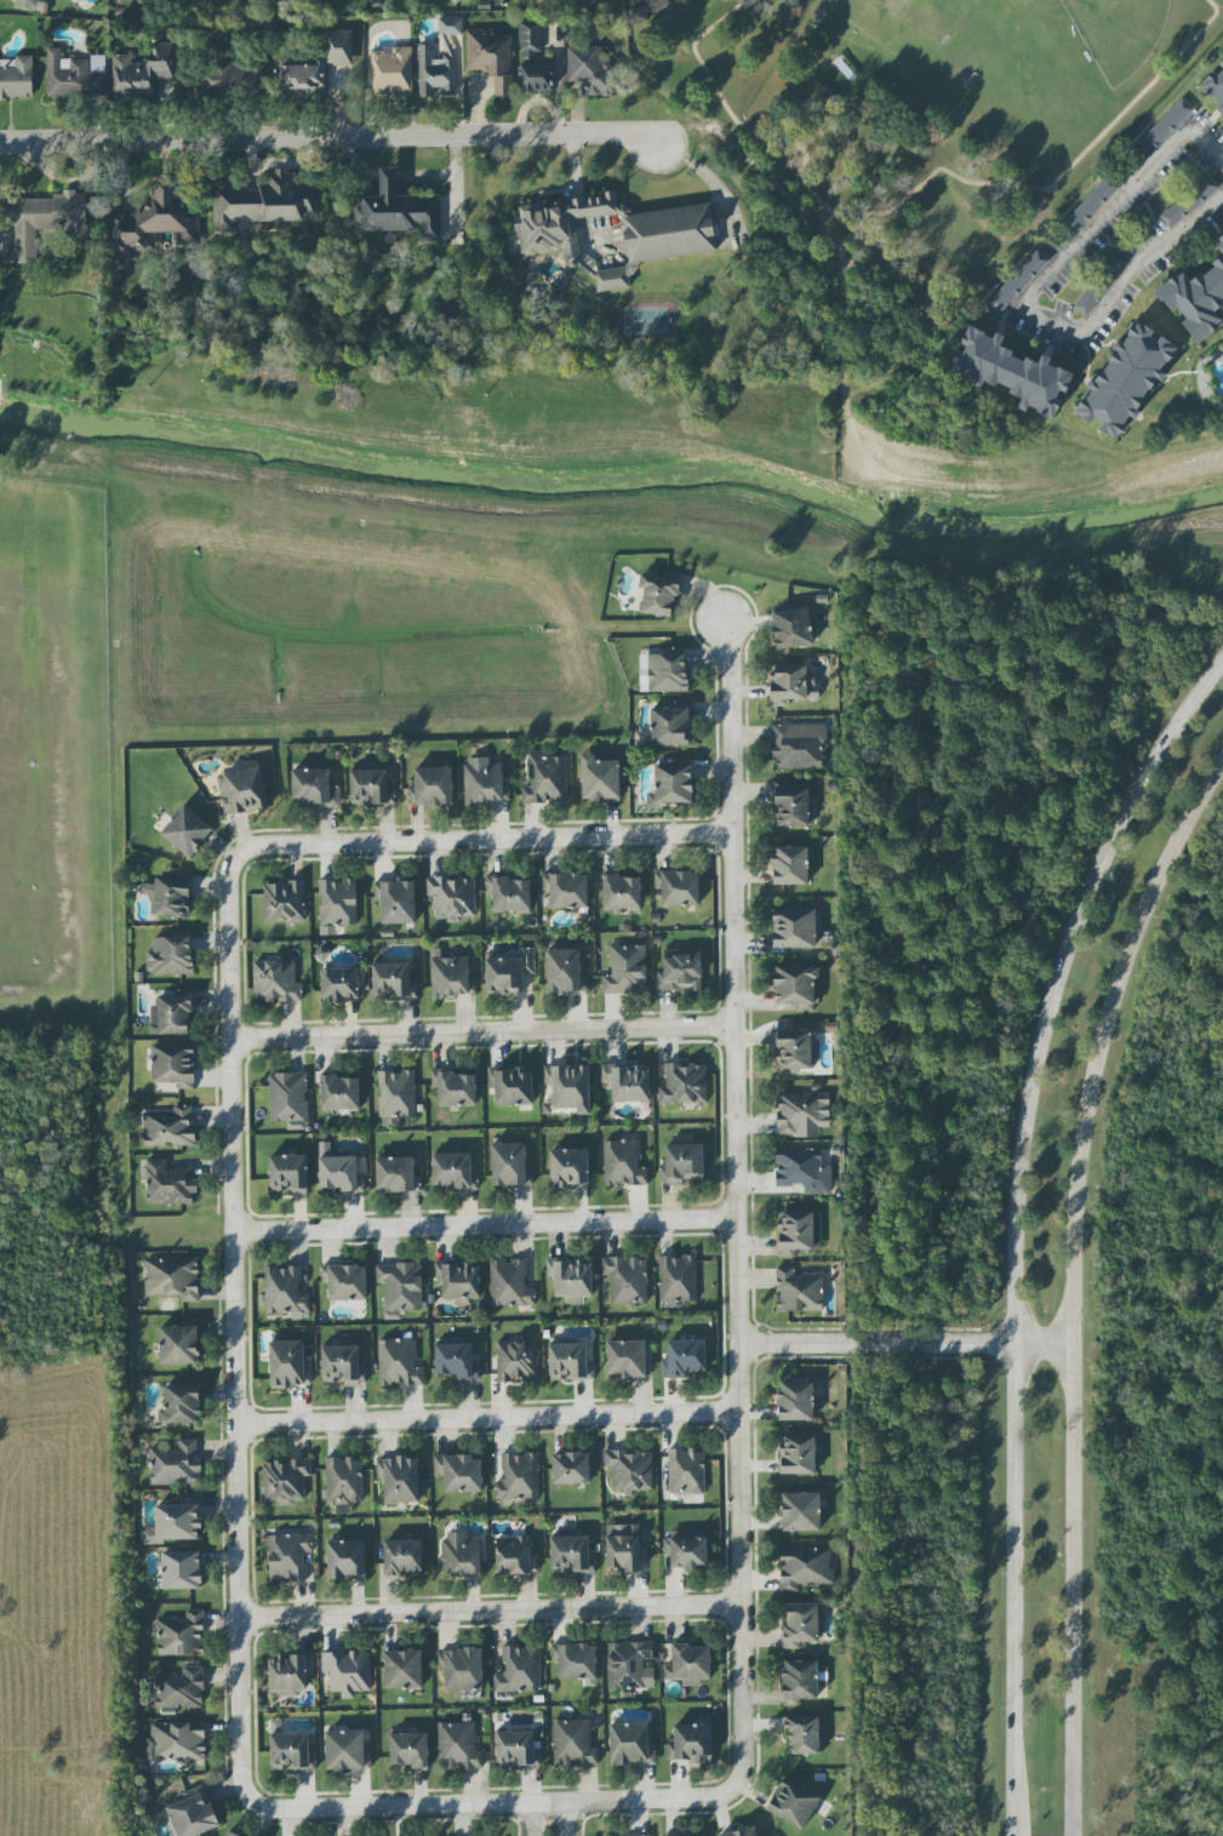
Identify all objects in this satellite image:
building: (456, 1)
building: (598, 2)
building: (646, 10)
building: (450, 25)
building: (491, 57)
building: (533, 61)
building: (318, 67)
building: (589, 68)
building: (392, 70)
building: (435, 72)
building: (142, 73)
building: (75, 75)
building: (230, 76)
building: (16, 78)
building: (1216, 86)
building: (1161, 130)
road: (331, 136)
road: (918, 187)
building: (263, 201)
building: (1189, 202)
building: (1090, 206)
building: (398, 210)
building: (44, 224)
building: (152, 225)
building: (1017, 282)
building: (1098, 286)
road: (1027, 298)
building: (1196, 298)
park: (645, 320)
building: (1011, 372)
building: (1126, 379)
building: (658, 595)
building: (791, 628)
building: (663, 671)
building: (791, 684)
building: (671, 723)
building: (798, 744)
building: (545, 779)
building: (600, 779)
building: (485, 782)
building: (671, 785)
building: (430, 787)
building: (314, 788)
building: (371, 788)
building: (242, 790)
building: (794, 807)
building: (187, 831)
road: (484, 839)
building: (791, 865)
building: (678, 887)
building: (566, 890)
building: (622, 892)
building: (509, 894)
building: (170, 897)
building: (452, 897)
building: (284, 900)
building: (396, 900)
building: (794, 928)
building: (170, 956)
building: (625, 970)
building: (681, 970)
building: (565, 971)
building: (509, 972)
building: (452, 977)
building: (393, 980)
building: (275, 982)
building: (339, 984)
building: (795, 986)
building: (171, 1014)
road: (482, 1033)
building: (793, 1048)
building: (628, 1082)
building: (684, 1083)
building: (512, 1085)
building: (570, 1087)
building: (455, 1088)
building: (339, 1093)
building: (396, 1093)
building: (288, 1097)
building: (802, 1114)
building: (170, 1127)
building: (623, 1163)
building: (682, 1163)
building: (510, 1165)
building: (568, 1167)
building: (455, 1171)
building: (802, 1171)
building: (288, 1173)
building: (341, 1174)
building: (396, 1174)
building: (168, 1183)
road: (736, 1208)
road: (485, 1224)
road: (1017, 1225)
building: (799, 1231)
building: (172, 1277)
building: (678, 1277)
building: (572, 1279)
building: (459, 1280)
building: (627, 1280)
building: (345, 1281)
building: (510, 1283)
road: (1076, 1287)
building: (400, 1288)
building: (799, 1291)
building: (285, 1292)
road: (234, 1327)
road: (905, 1344)
building: (178, 1345)
building: (685, 1357)
building: (628, 1359)
building: (457, 1361)
building: (516, 1361)
building: (570, 1362)
building: (399, 1363)
building: (288, 1365)
building: (342, 1366)
building: (796, 1401)
building: (181, 1403)
road: (487, 1419)
building: (798, 1454)
building: (176, 1464)
building: (571, 1468)
building: (630, 1470)
building: (686, 1471)
building: (459, 1472)
building: (519, 1477)
building: (399, 1478)
building: (285, 1481)
building: (343, 1481)
building: (801, 1511)
building: (173, 1525)
building: (687, 1548)
building: (624, 1549)
building: (461, 1555)
building: (515, 1555)
building: (571, 1555)
building: (288, 1556)
building: (402, 1556)
building: (345, 1560)
building: (805, 1567)
building: (181, 1569)
road: (490, 1611)
building: (802, 1624)
building: (182, 1635)
building: (576, 1663)
building: (690, 1664)
building: (630, 1665)
building: (402, 1669)
building: (462, 1669)
building: (519, 1670)
building: (348, 1672)
building: (290, 1674)
building: (802, 1681)
building: (802, 1734)
building: (177, 1741)
building: (691, 1743)
building: (573, 1744)
building: (630, 1744)
building: (458, 1746)
building: (408, 1749)
building: (518, 1749)
building: (347, 1750)
building: (793, 1803)
road: (495, 1804)
building: (193, 1814)
road: (531, 1820)
road: (565, 1820)
building: (742, 1832)
building: (228, 1834)
building: (638, 1835)

